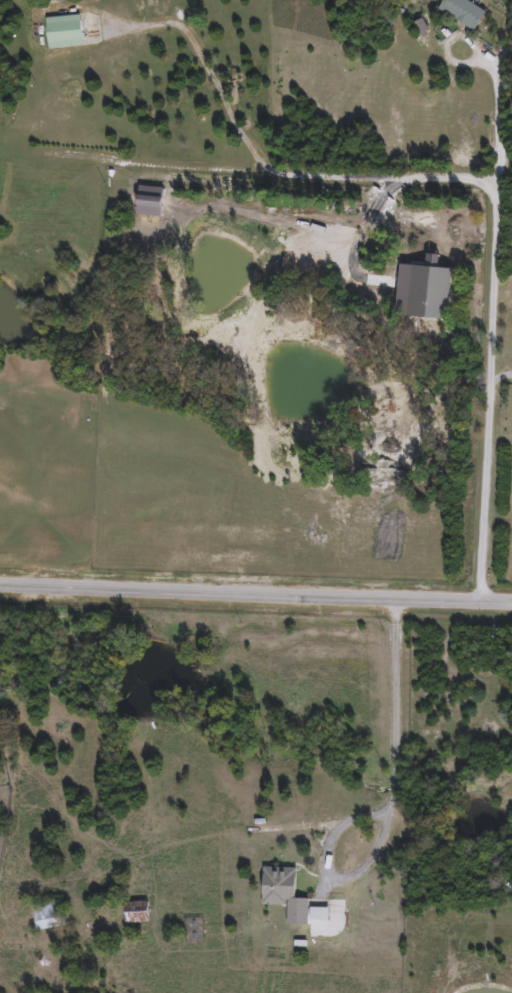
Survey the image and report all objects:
building: (54, 1)
building: (464, 13)
building: (67, 32)
road: (503, 121)
road: (502, 194)
building: (330, 256)
road: (505, 375)
road: (255, 593)
road: (389, 807)
building: (294, 902)
building: (48, 917)

